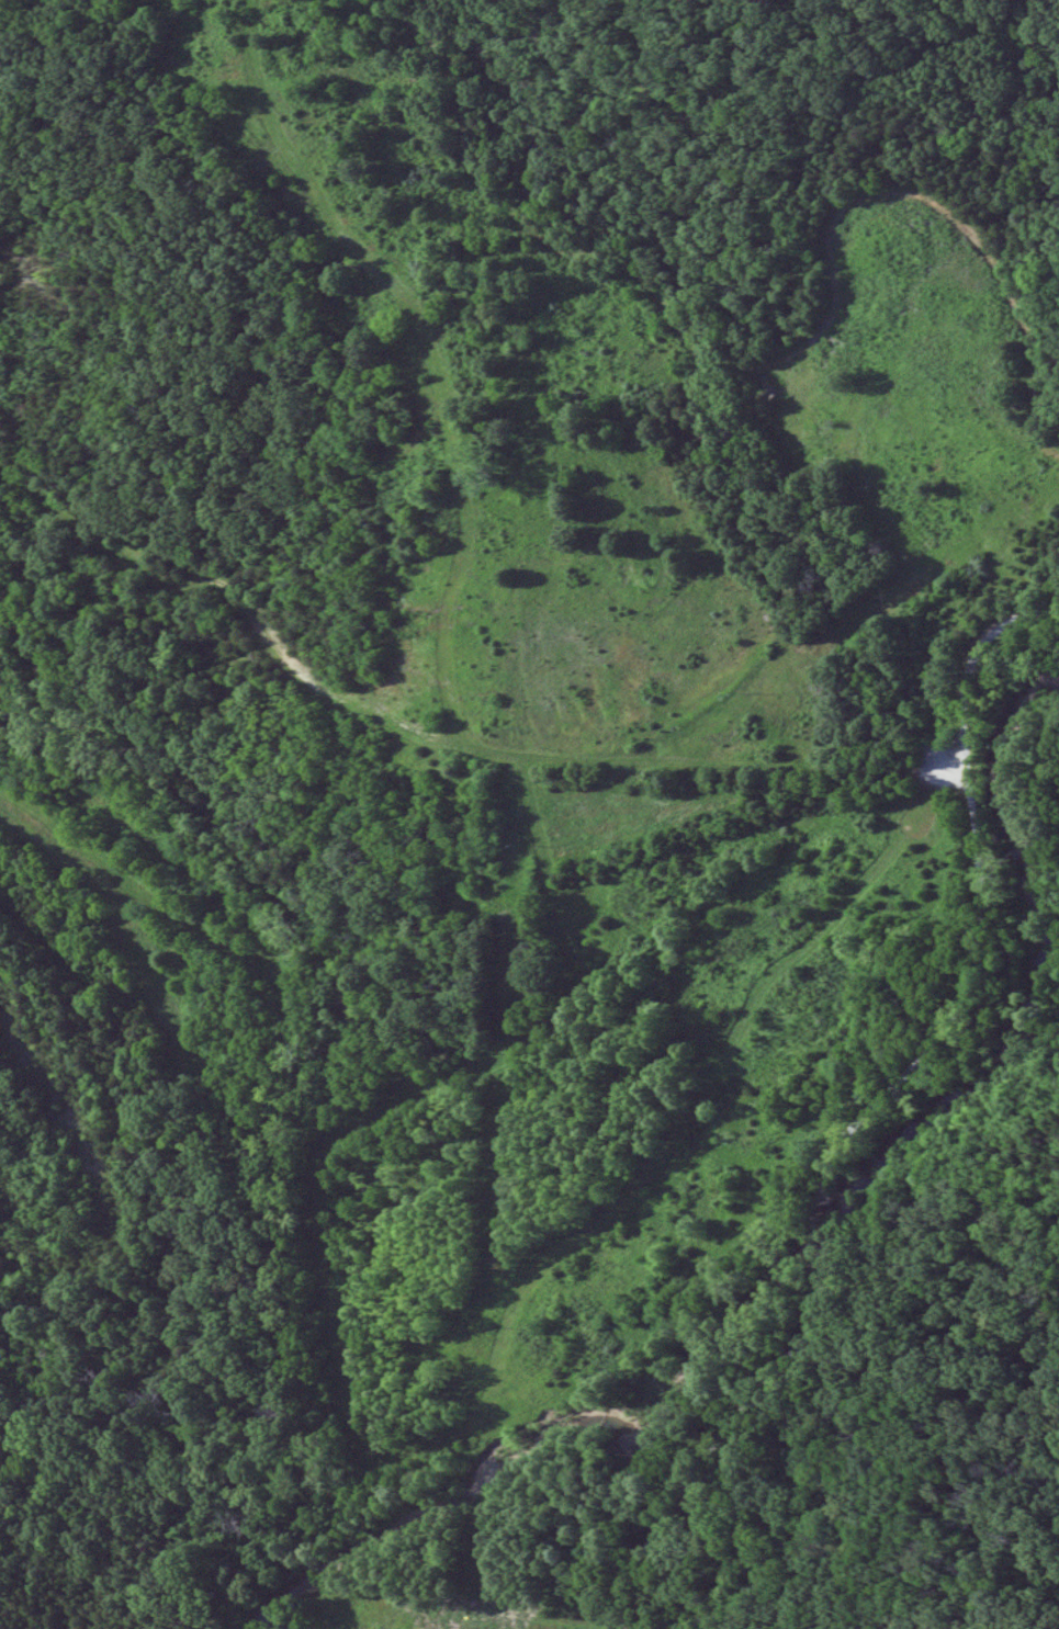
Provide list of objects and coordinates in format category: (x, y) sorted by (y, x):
road: (898, 1099)

